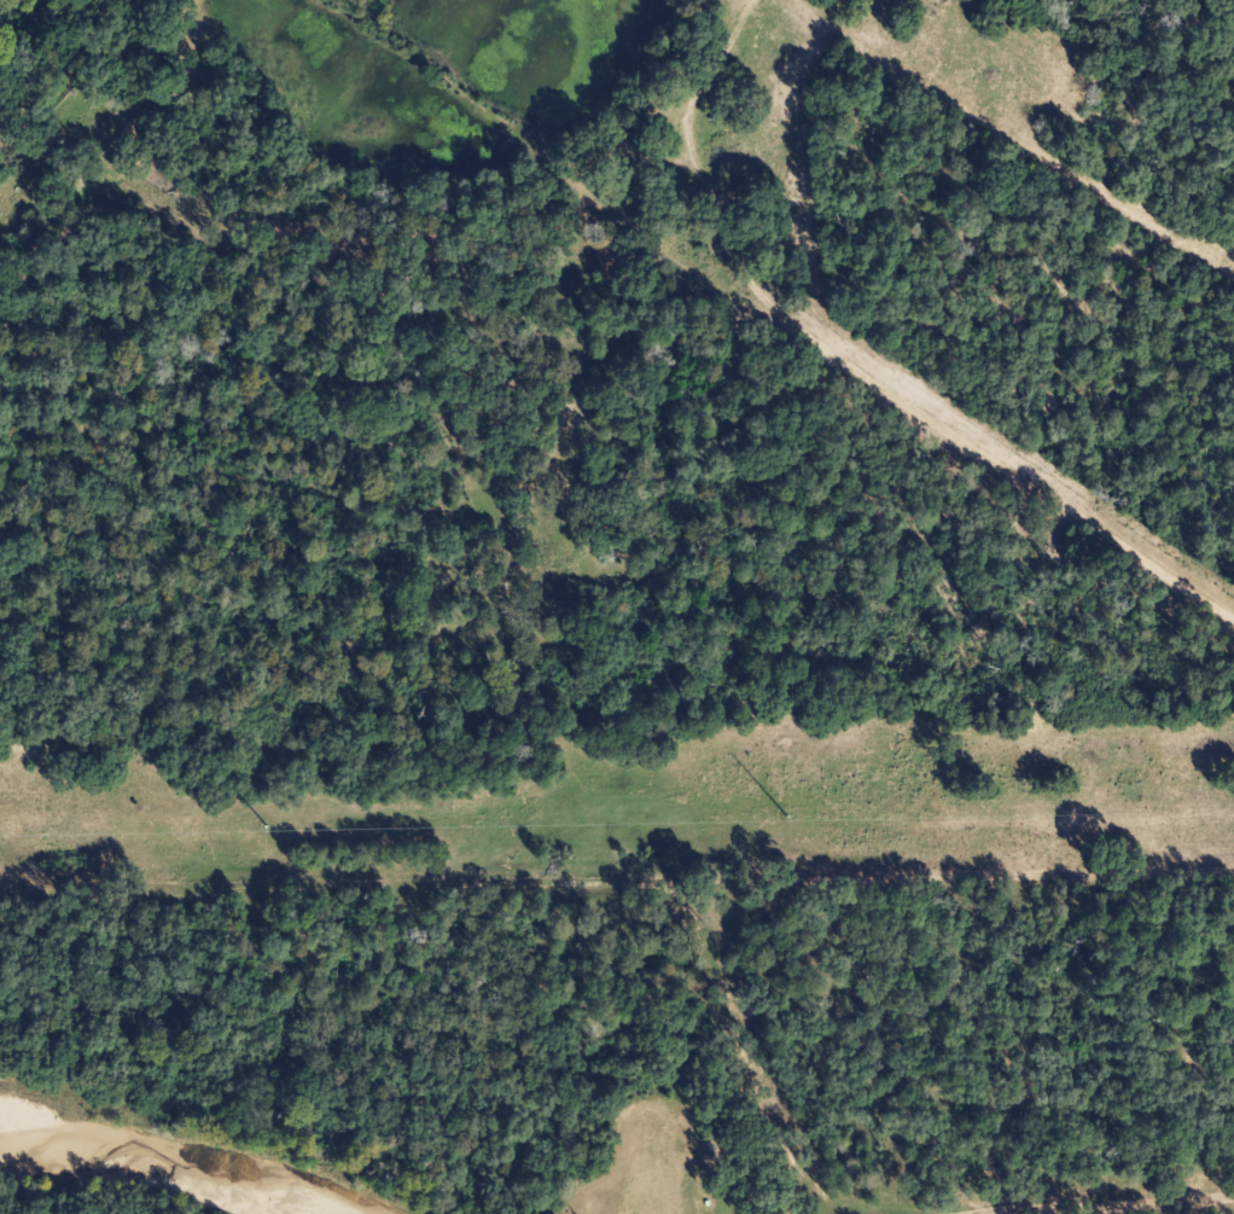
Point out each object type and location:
road: (931, 400)

